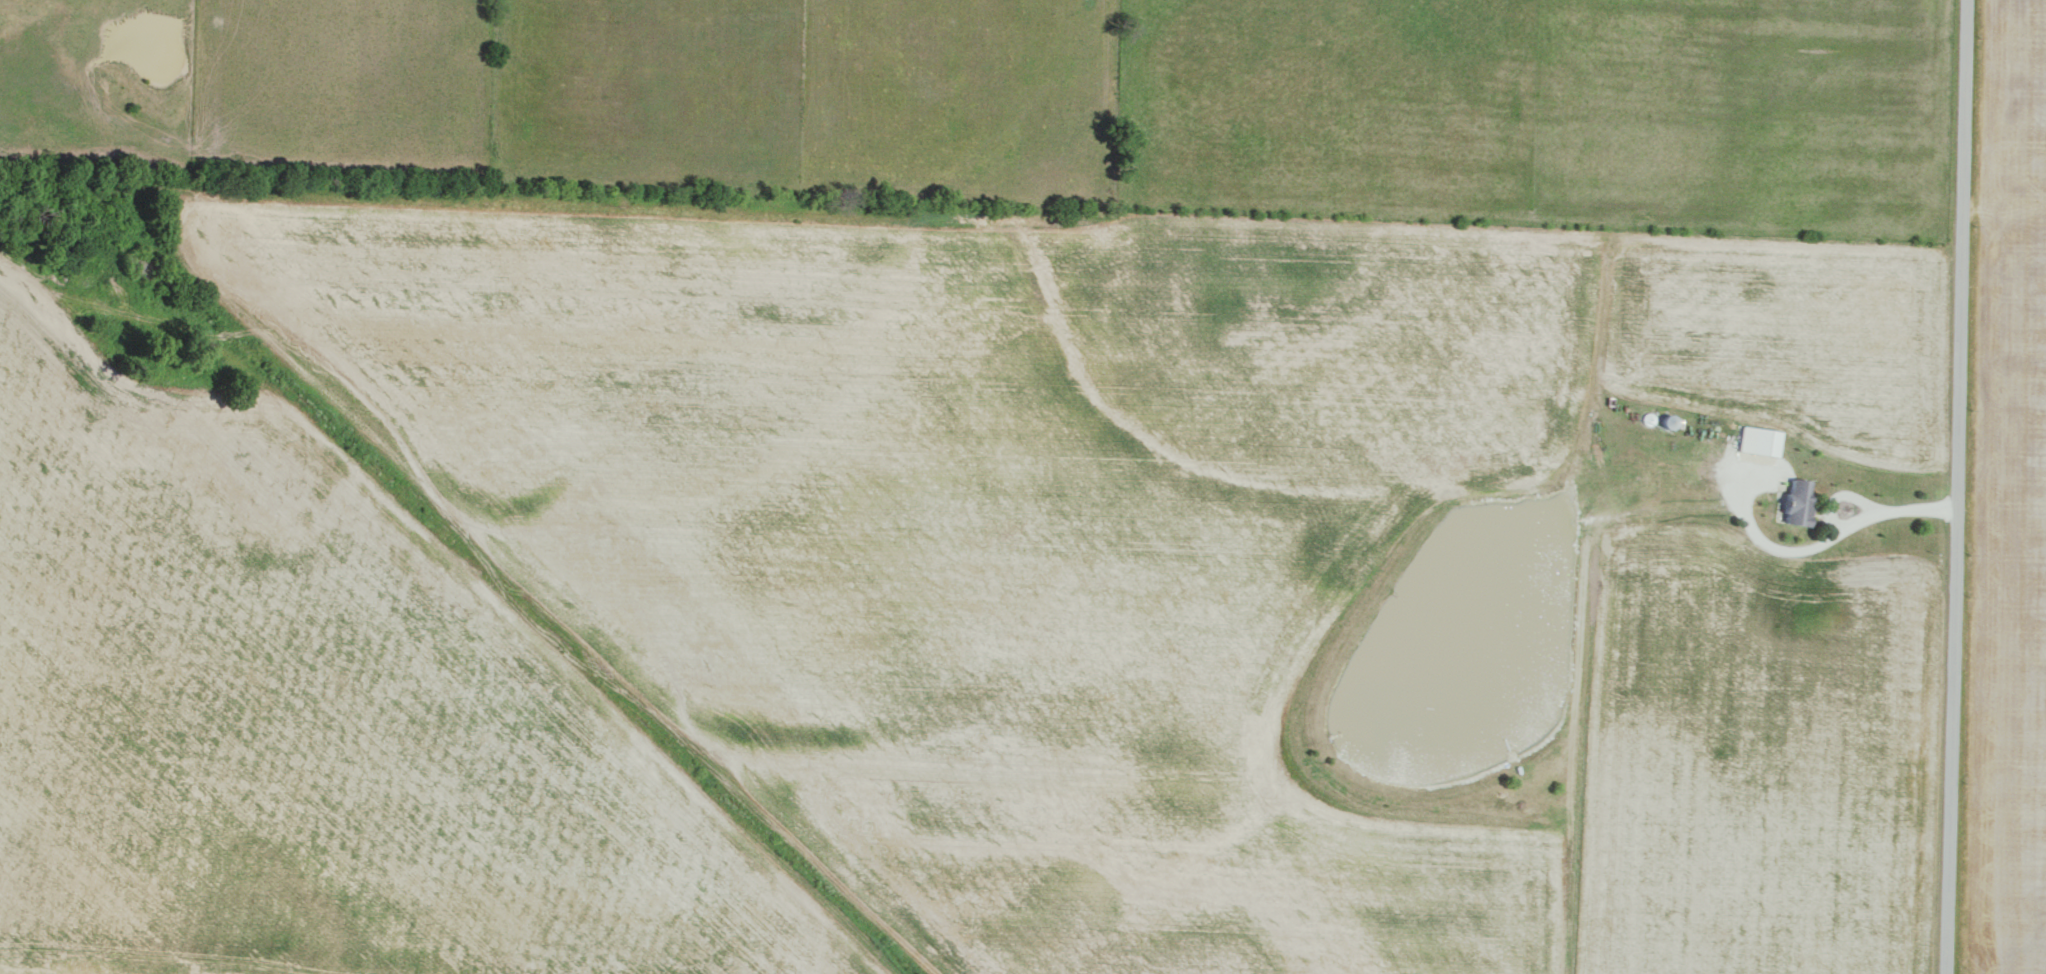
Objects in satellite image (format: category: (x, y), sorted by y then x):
building: (1758, 439)
road: (1952, 486)
road: (1854, 500)
building: (1797, 501)

